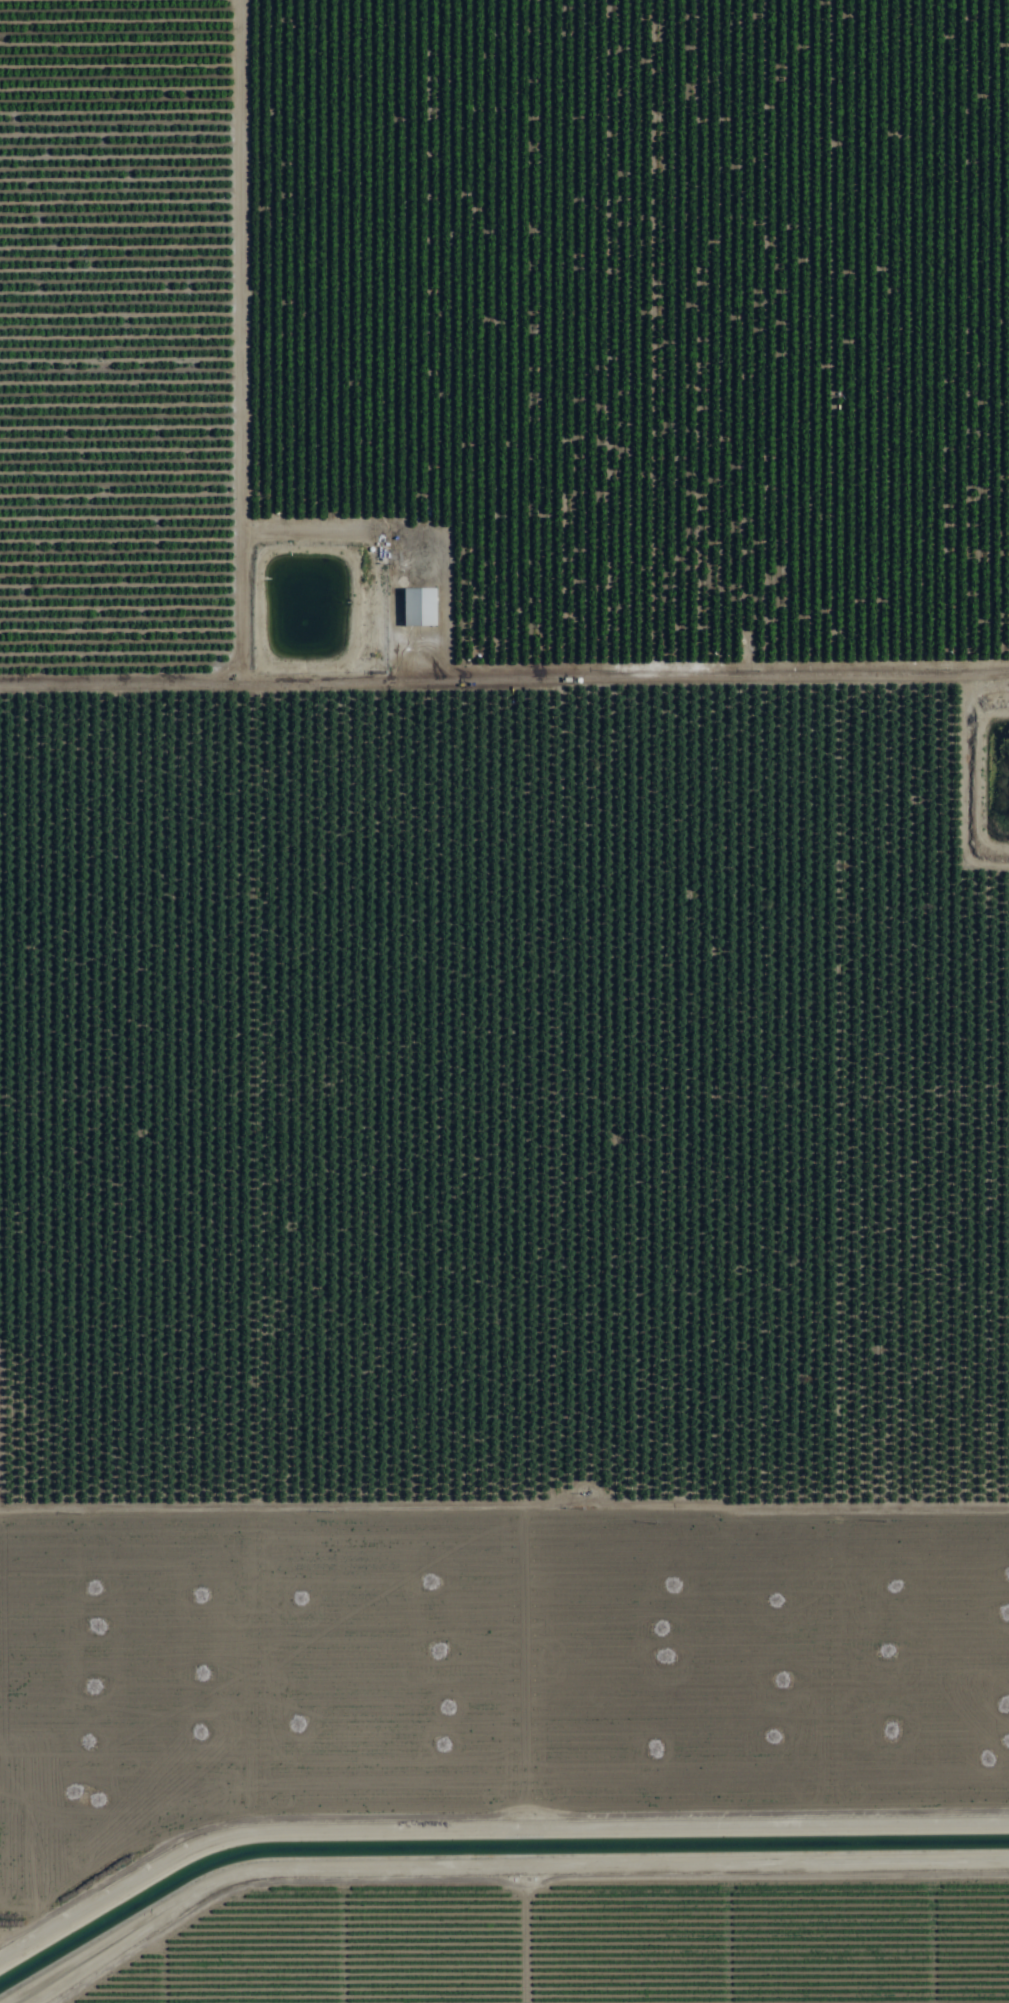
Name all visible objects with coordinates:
building: (418, 607)
wastewater plant: (301, 608)
road: (504, 679)
wastewater plant: (996, 779)
crop: (504, 1001)
road: (504, 1093)

